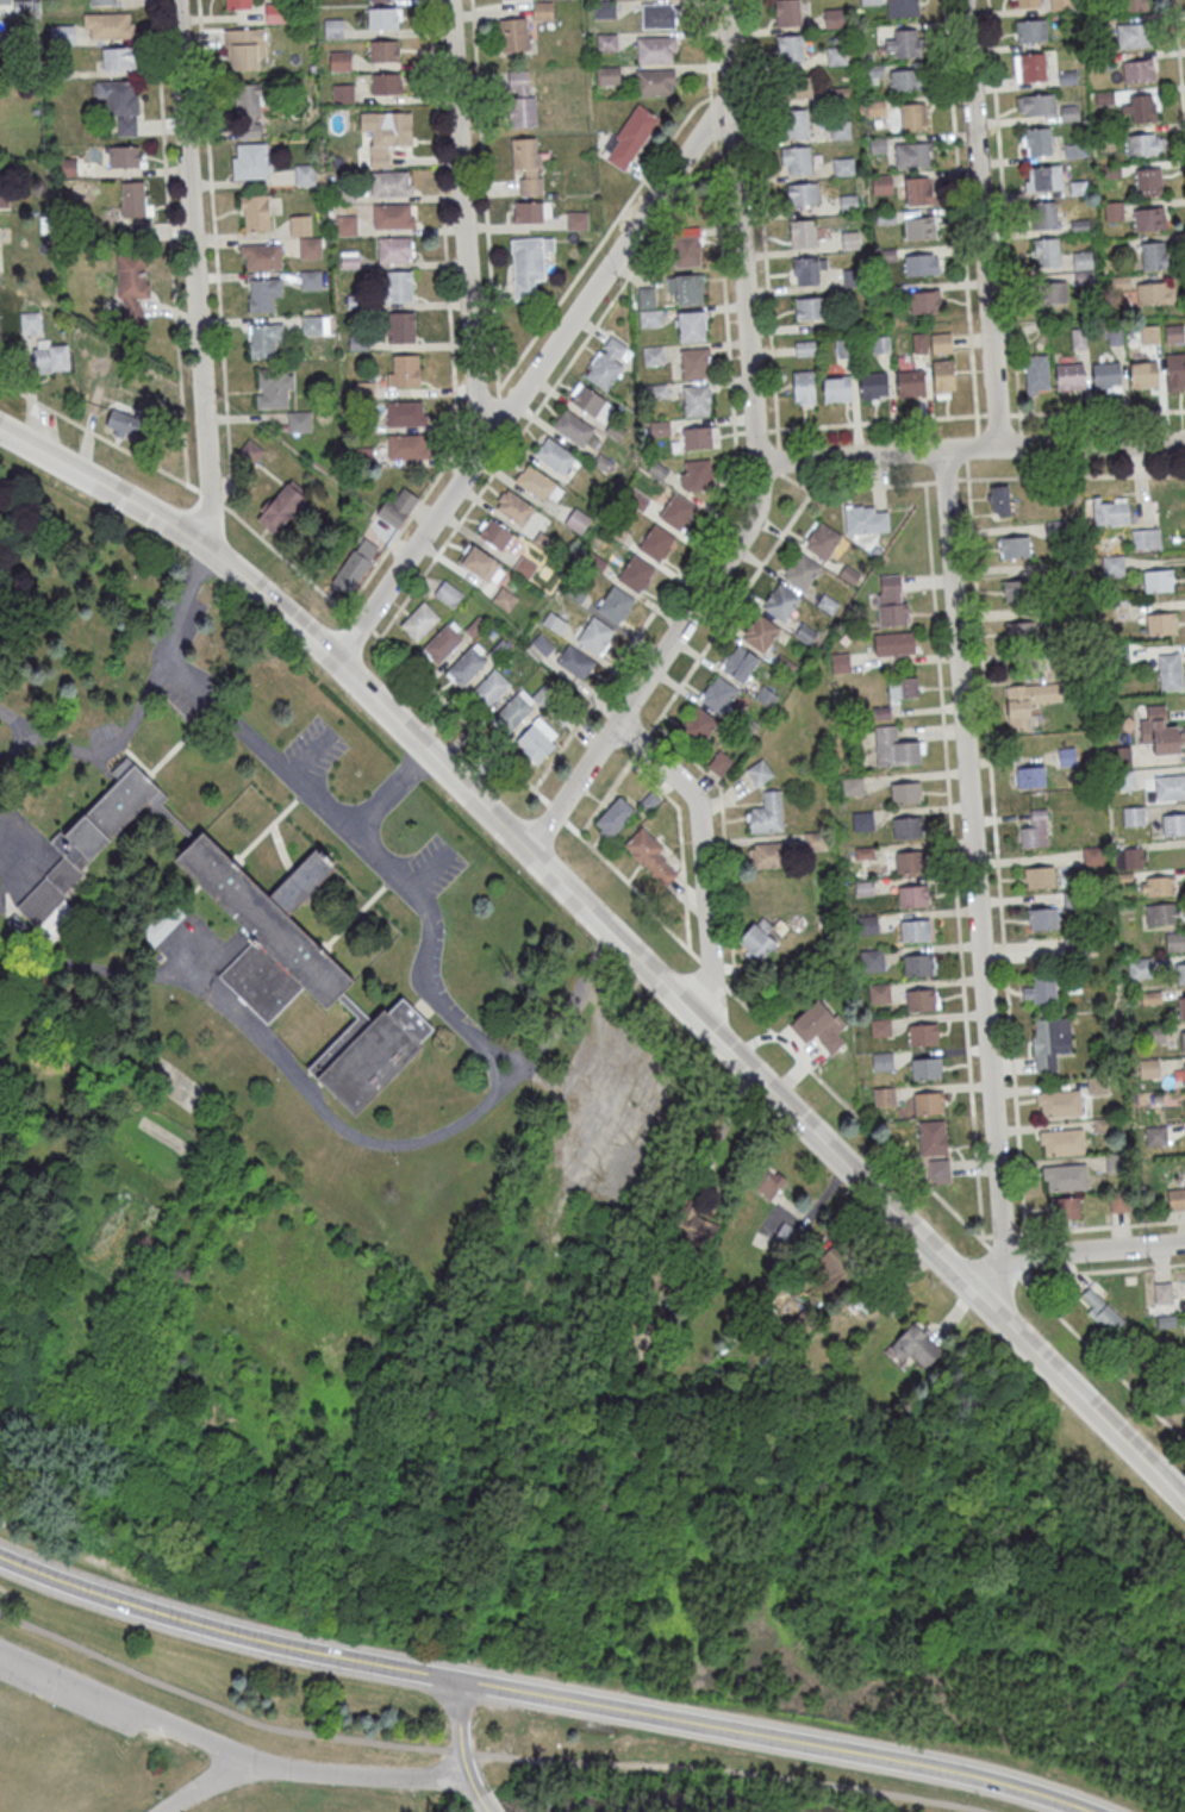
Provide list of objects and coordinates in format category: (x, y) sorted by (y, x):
building: (380, 0)
building: (102, 2)
building: (1025, 2)
building: (237, 4)
building: (1134, 5)
building: (903, 7)
building: (605, 8)
building: (542, 11)
building: (275, 13)
building: (786, 13)
building: (659, 15)
building: (383, 18)
building: (832, 18)
building: (108, 25)
building: (333, 27)
building: (1031, 30)
building: (62, 33)
building: (513, 33)
building: (1133, 35)
building: (606, 42)
building: (904, 43)
building: (656, 48)
building: (244, 49)
building: (790, 49)
building: (383, 50)
road: (705, 50)
building: (836, 56)
building: (119, 57)
building: (339, 60)
road: (1179, 65)
building: (1030, 67)
building: (1140, 70)
building: (872, 73)
building: (607, 75)
building: (905, 80)
building: (655, 81)
building: (387, 83)
building: (797, 88)
building: (342, 93)
building: (522, 98)
building: (121, 104)
building: (1035, 104)
building: (1139, 108)
building: (249, 110)
building: (913, 115)
road: (711, 119)
building: (796, 123)
building: (840, 130)
building: (629, 136)
building: (1037, 140)
building: (385, 142)
building: (1143, 144)
road: (729, 149)
building: (912, 154)
building: (125, 156)
building: (251, 160)
building: (796, 160)
building: (526, 165)
building: (843, 167)
building: (305, 174)
building: (1043, 177)
building: (1148, 181)
building: (391, 183)
building: (881, 183)
building: (918, 190)
building: (2, 194)
building: (802, 194)
building: (133, 198)
road: (484, 198)
building: (531, 211)
building: (1112, 211)
building: (255, 212)
building: (1043, 214)
building: (393, 215)
road: (961, 217)
road: (1004, 217)
building: (1149, 218)
building: (578, 220)
road: (983, 221)
road: (762, 223)
building: (300, 224)
building: (345, 224)
road: (462, 226)
building: (919, 227)
road: (741, 230)
building: (802, 233)
road: (599, 238)
building: (849, 239)
road: (169, 240)
building: (686, 246)
building: (310, 248)
building: (394, 249)
building: (1046, 251)
building: (1154, 255)
road: (214, 256)
building: (261, 256)
building: (349, 258)
building: (1081, 260)
building: (528, 263)
building: (923, 263)
building: (806, 270)
road: (193, 275)
building: (311, 279)
building: (398, 286)
building: (132, 287)
building: (686, 288)
building: (1052, 292)
building: (263, 293)
building: (1155, 293)
building: (925, 301)
building: (648, 307)
building: (810, 307)
road: (449, 321)
building: (31, 323)
building: (311, 324)
building: (692, 325)
building: (399, 326)
building: (1150, 335)
building: (264, 339)
building: (918, 343)
building: (941, 343)
building: (881, 344)
building: (844, 348)
building: (653, 355)
building: (48, 357)
building: (607, 363)
building: (694, 363)
building: (1175, 369)
building: (404, 370)
building: (1036, 374)
building: (1143, 375)
building: (1069, 376)
building: (1106, 376)
building: (943, 377)
road: (529, 381)
building: (910, 382)
building: (873, 386)
building: (275, 387)
building: (804, 387)
building: (837, 388)
road: (549, 389)
building: (697, 399)
building: (591, 402)
road: (499, 410)
road: (1097, 410)
road: (997, 412)
building: (405, 413)
building: (299, 420)
road: (877, 420)
building: (123, 421)
building: (573, 427)
road: (740, 430)
road: (755, 430)
road: (98, 432)
building: (698, 436)
road: (1022, 442)
building: (407, 445)
road: (972, 445)
road: (972, 446)
building: (554, 455)
road: (780, 458)
road: (967, 468)
building: (697, 474)
road: (1071, 475)
road: (946, 479)
road: (930, 480)
building: (538, 483)
road: (850, 487)
road: (732, 491)
building: (1067, 492)
road: (210, 496)
building: (998, 499)
building: (397, 506)
building: (513, 507)
building: (281, 508)
building: (1109, 510)
building: (676, 512)
building: (866, 518)
building: (576, 520)
building: (1055, 529)
building: (494, 533)
building: (1146, 537)
building: (823, 538)
building: (656, 543)
building: (1015, 545)
building: (875, 549)
road: (287, 561)
building: (481, 564)
building: (1112, 564)
building: (524, 567)
building: (1065, 567)
building: (802, 568)
building: (351, 570)
building: (636, 573)
building: (849, 574)
building: (1158, 580)
building: (1017, 589)
building: (448, 593)
building: (504, 599)
building: (780, 600)
building: (827, 602)
building: (892, 602)
building: (615, 604)
road: (729, 611)
building: (1071, 611)
building: (419, 621)
building: (554, 623)
building: (1160, 623)
road: (363, 624)
building: (761, 630)
building: (805, 632)
building: (1021, 632)
building: (595, 636)
building: (894, 642)
building: (442, 643)
building: (538, 646)
building: (1116, 652)
road: (654, 658)
building: (575, 661)
building: (738, 661)
building: (841, 661)
building: (1152, 661)
building: (785, 663)
building: (466, 666)
building: (1170, 670)
building: (902, 685)
building: (489, 688)
building: (718, 693)
building: (766, 694)
road: (143, 695)
building: (1028, 701)
building: (513, 710)
road: (460, 716)
road: (11, 717)
building: (699, 723)
building: (746, 723)
building: (1160, 731)
building: (537, 739)
road: (642, 739)
building: (896, 746)
road: (307, 751)
building: (1121, 756)
road: (11, 760)
building: (721, 761)
building: (759, 771)
building: (1030, 776)
building: (1121, 780)
building: (852, 785)
building: (1170, 787)
road: (386, 792)
road: (607, 792)
building: (906, 792)
road: (555, 811)
building: (768, 811)
building: (1133, 816)
building: (613, 817)
building: (862, 819)
building: (1173, 824)
building: (908, 825)
building: (1034, 830)
building: (816, 839)
building: (863, 851)
road: (974, 852)
building: (771, 854)
road: (996, 855)
building: (1092, 855)
building: (1129, 856)
building: (651, 857)
road: (953, 858)
building: (909, 860)
road: (701, 861)
road: (431, 869)
building: (1040, 876)
building: (1123, 877)
building: (865, 886)
building: (1160, 886)
building: (911, 894)
building: (1073, 900)
building: (1160, 913)
building: (1043, 918)
building: (867, 923)
building: (162, 924)
building: (17, 927)
building: (915, 929)
road: (615, 937)
building: (759, 937)
building: (1174, 941)
building: (286, 942)
building: (1074, 945)
building: (872, 958)
building: (918, 963)
building: (1140, 968)
building: (1180, 973)
building: (1041, 986)
building: (879, 991)
building: (921, 998)
building: (1152, 998)
building: (1181, 1007)
building: (1115, 1013)
road: (463, 1021)
building: (819, 1025)
building: (880, 1025)
road: (774, 1031)
building: (923, 1032)
building: (1154, 1033)
building: (1049, 1041)
building: (1183, 1041)
building: (882, 1060)
building: (927, 1067)
building: (1148, 1068)
building: (1184, 1070)
building: (1177, 1073)
building: (1098, 1085)
building: (884, 1094)
building: (1156, 1099)
building: (929, 1101)
building: (1059, 1102)
building: (1104, 1124)
road: (721, 1126)
building: (933, 1136)
building: (1156, 1136)
building: (1062, 1141)
building: (710, 1151)
building: (1116, 1162)
building: (938, 1175)
building: (1065, 1176)
building: (767, 1182)
building: (1177, 1198)
building: (1118, 1200)
building: (1065, 1207)
road: (1104, 1224)
building: (692, 1229)
road: (1019, 1232)
road: (985, 1233)
road: (1003, 1233)
road: (1025, 1236)
building: (787, 1237)
road: (1073, 1249)
road: (1027, 1252)
road: (1003, 1258)
building: (827, 1264)
road: (1102, 1270)
road: (1028, 1275)
building: (1161, 1292)
building: (867, 1300)
building: (1099, 1310)
building: (1165, 1320)
building: (917, 1345)
road: (1100, 1357)
building: (1171, 1372)
building: (1179, 1397)
park: (771, 1626)
parking lot: (71, 1688)
road: (537, 1695)
park: (188, 1724)
road: (460, 1741)
road: (227, 1745)
road: (476, 1751)
road: (210, 1781)
river: (647, 1801)
road: (485, 1805)

